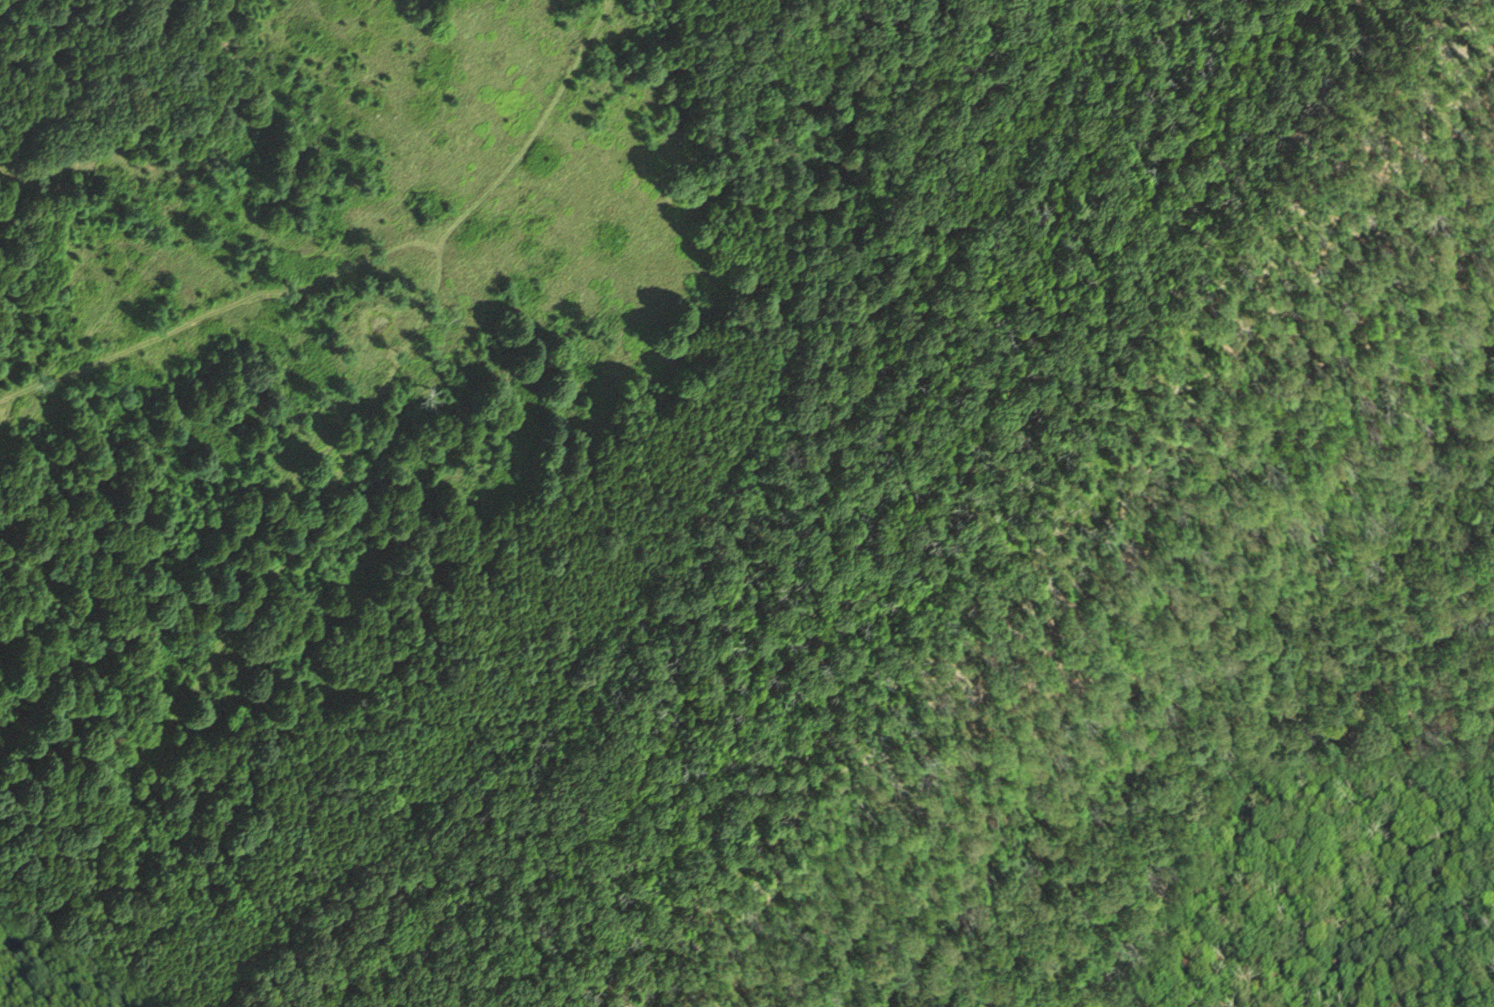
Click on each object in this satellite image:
road: (365, 271)

